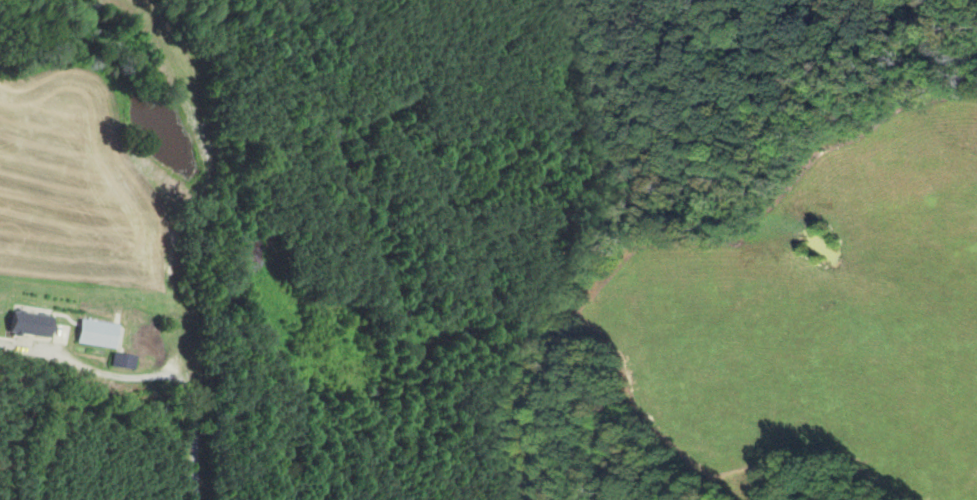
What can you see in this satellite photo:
building: (27, 324)
building: (95, 333)
building: (122, 361)
road: (113, 375)
road: (194, 444)

